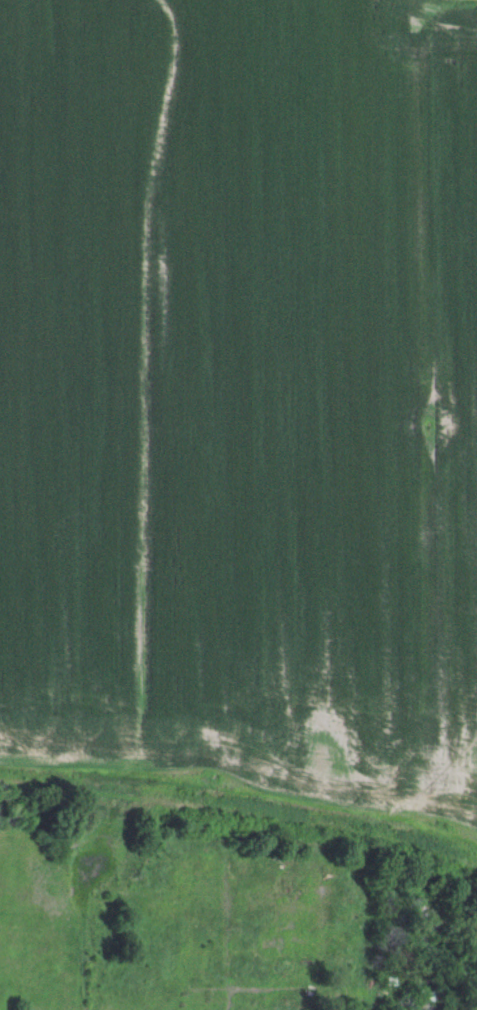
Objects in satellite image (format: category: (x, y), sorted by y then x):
crop: (242, 400)
building: (387, 982)

